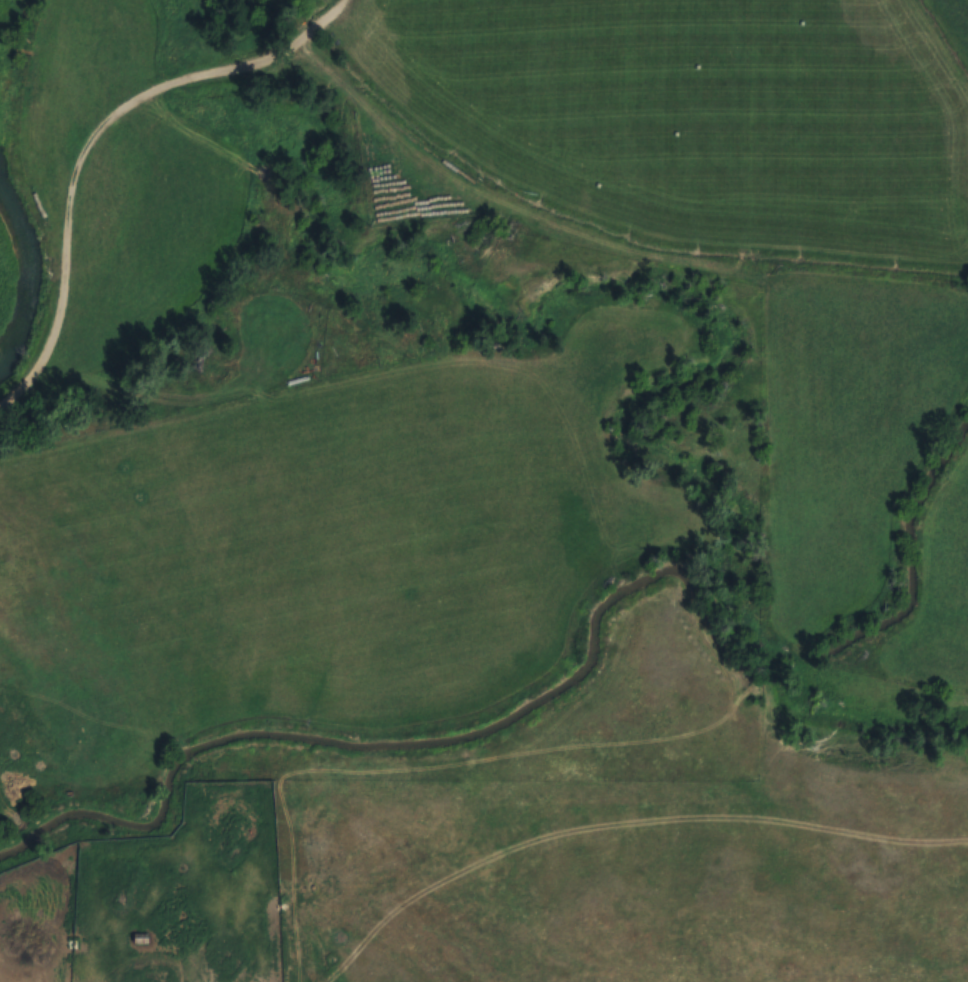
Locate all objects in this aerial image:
river: (26, 281)

